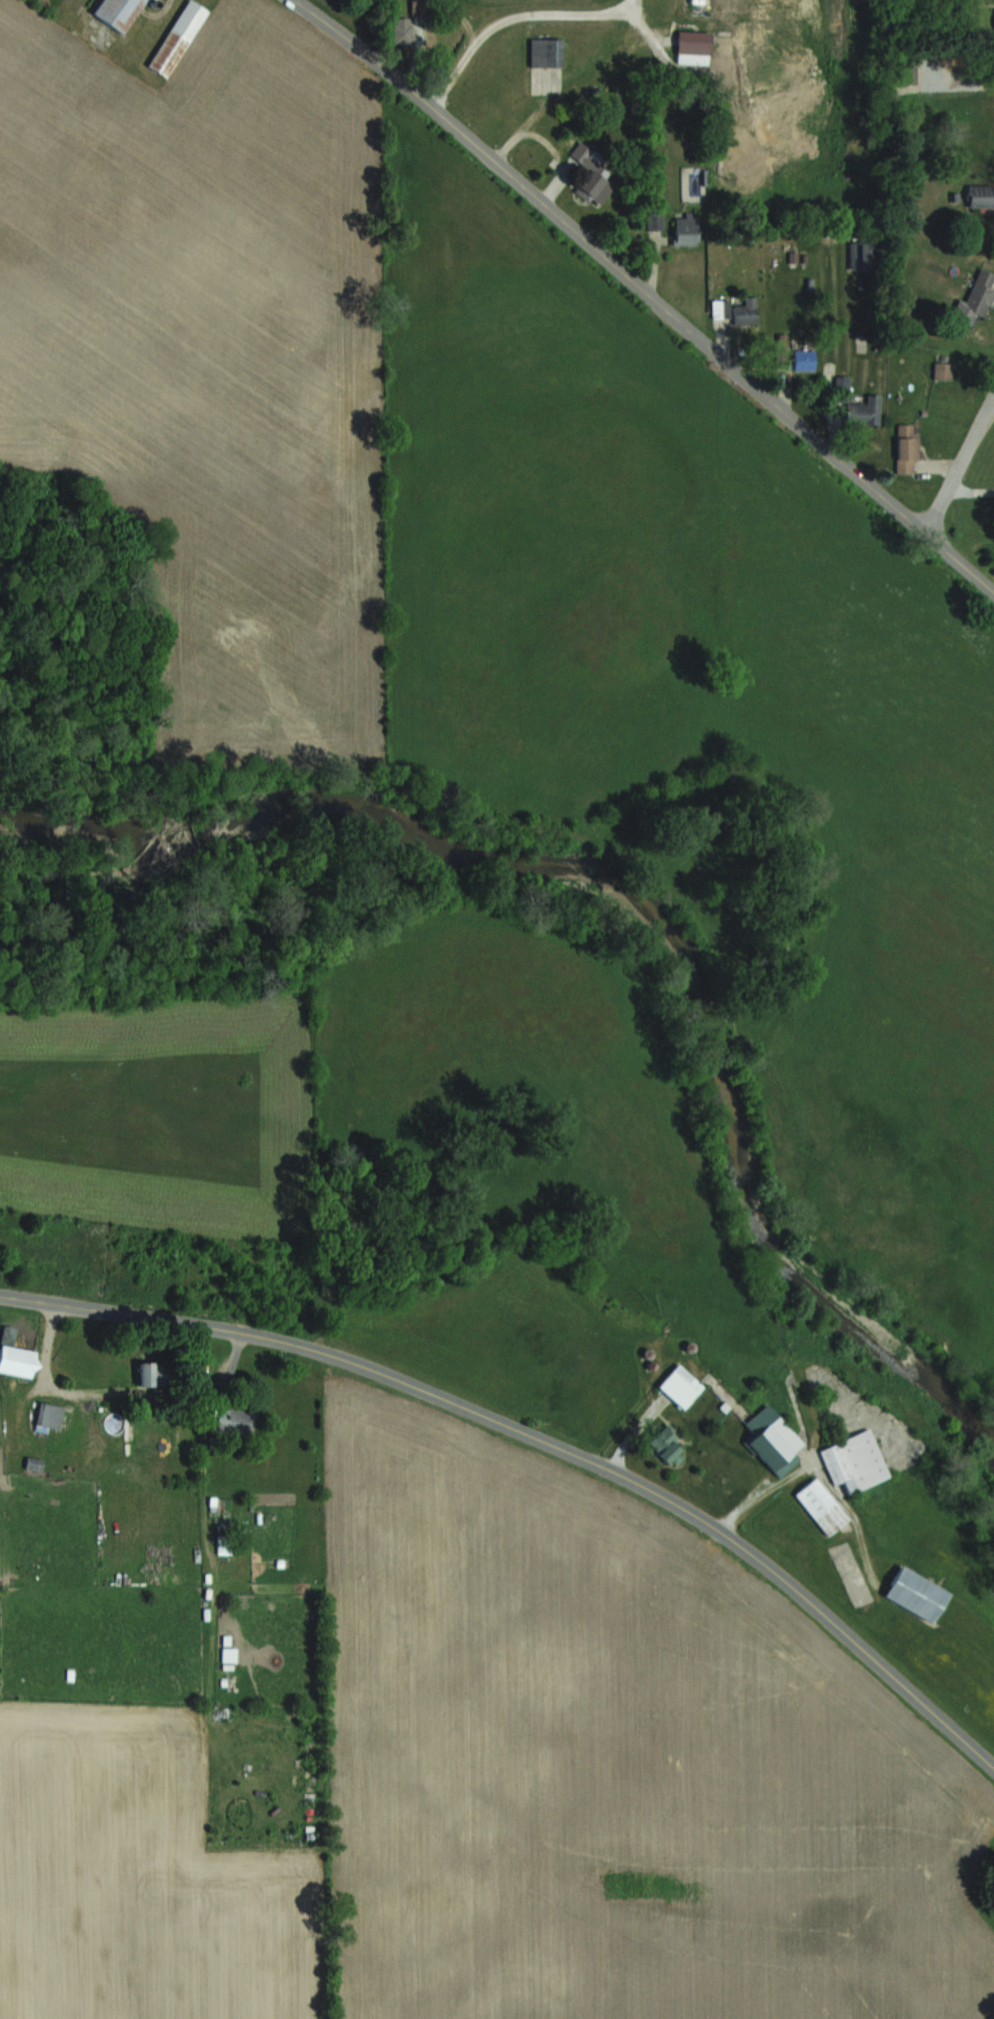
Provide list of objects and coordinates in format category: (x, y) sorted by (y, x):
building: (420, 7)
building: (118, 13)
road: (512, 14)
building: (402, 30)
building: (177, 38)
building: (692, 47)
building: (545, 52)
building: (592, 174)
building: (979, 195)
building: (685, 228)
building: (860, 255)
building: (979, 292)
road: (647, 294)
building: (720, 308)
building: (745, 311)
crop: (210, 357)
building: (804, 359)
building: (942, 370)
building: (863, 411)
building: (906, 448)
road: (958, 465)
river: (645, 905)
building: (14, 1355)
building: (154, 1372)
road: (54, 1383)
building: (680, 1386)
building: (50, 1415)
building: (234, 1420)
road: (541, 1439)
building: (772, 1440)
building: (668, 1446)
building: (854, 1461)
road: (758, 1489)
building: (821, 1506)
building: (916, 1593)
building: (229, 1654)

